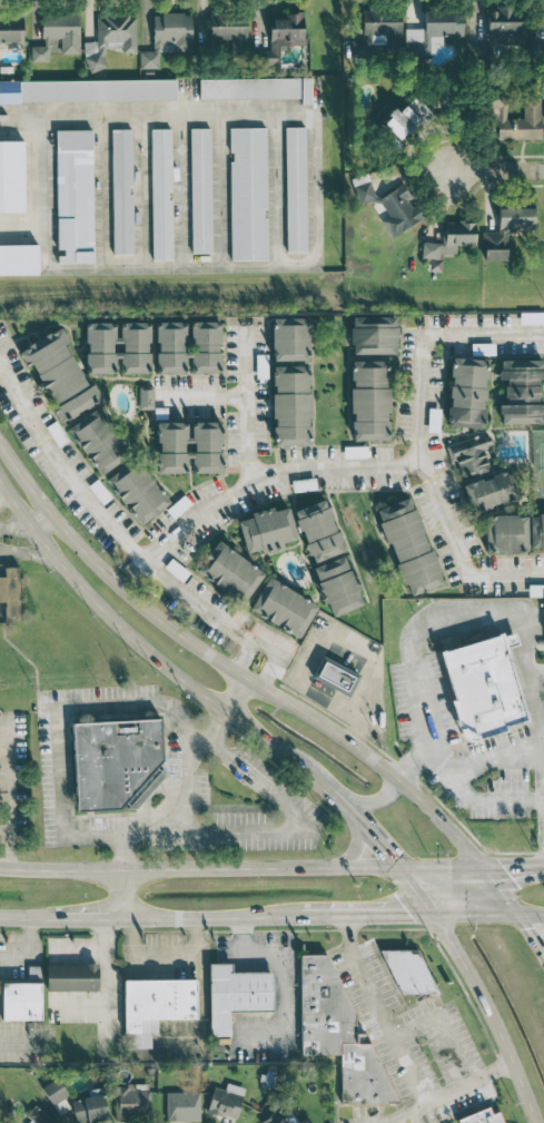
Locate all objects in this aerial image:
building: (11, 29)
building: (378, 30)
building: (433, 30)
building: (230, 31)
building: (497, 32)
building: (58, 35)
building: (284, 36)
building: (167, 37)
building: (110, 39)
building: (256, 88)
building: (88, 90)
road: (22, 114)
building: (406, 118)
building: (516, 118)
road: (495, 168)
building: (11, 176)
building: (296, 188)
building: (200, 189)
building: (121, 190)
building: (161, 194)
building: (248, 194)
building: (75, 196)
building: (392, 208)
building: (506, 230)
building: (448, 242)
road: (310, 258)
building: (19, 259)
building: (374, 335)
building: (290, 338)
building: (117, 346)
building: (188, 346)
building: (59, 375)
building: (522, 391)
building: (467, 392)
road: (199, 395)
building: (146, 396)
building: (369, 400)
road: (246, 405)
building: (291, 405)
road: (417, 437)
building: (98, 441)
building: (189, 446)
building: (481, 474)
road: (267, 477)
building: (137, 491)
road: (6, 500)
road: (99, 516)
road: (42, 520)
road: (16, 526)
building: (267, 530)
building: (318, 530)
building: (536, 531)
building: (506, 533)
building: (409, 545)
road: (26, 552)
building: (230, 571)
building: (337, 584)
building: (10, 592)
building: (284, 607)
road: (247, 639)
road: (265, 650)
road: (152, 657)
road: (244, 660)
road: (411, 662)
road: (229, 667)
road: (535, 671)
road: (265, 674)
road: (526, 674)
building: (335, 676)
building: (483, 686)
road: (236, 695)
road: (541, 715)
road: (56, 723)
road: (498, 758)
building: (116, 762)
road: (413, 766)
road: (2, 775)
road: (184, 797)
road: (373, 800)
road: (488, 800)
road: (368, 833)
road: (6, 846)
road: (354, 847)
traffic signals: (385, 853)
road: (513, 866)
road: (198, 867)
road: (441, 867)
traffic signals: (506, 867)
road: (500, 890)
road: (121, 891)
road: (416, 891)
road: (30, 915)
road: (369, 915)
traffic signals: (411, 915)
road: (475, 915)
road: (530, 915)
road: (91, 916)
road: (214, 916)
traffic signals: (523, 926)
road: (528, 935)
road: (543, 945)
road: (162, 955)
road: (543, 956)
road: (280, 958)
building: (408, 972)
building: (71, 977)
building: (236, 994)
building: (21, 1001)
building: (155, 1006)
road: (382, 1009)
road: (488, 1016)
road: (442, 1028)
building: (338, 1033)
road: (447, 1092)
building: (58, 1099)
building: (226, 1100)
building: (131, 1102)
building: (182, 1105)
building: (90, 1106)
building: (38, 1116)
building: (481, 1116)
building: (273, 1119)

